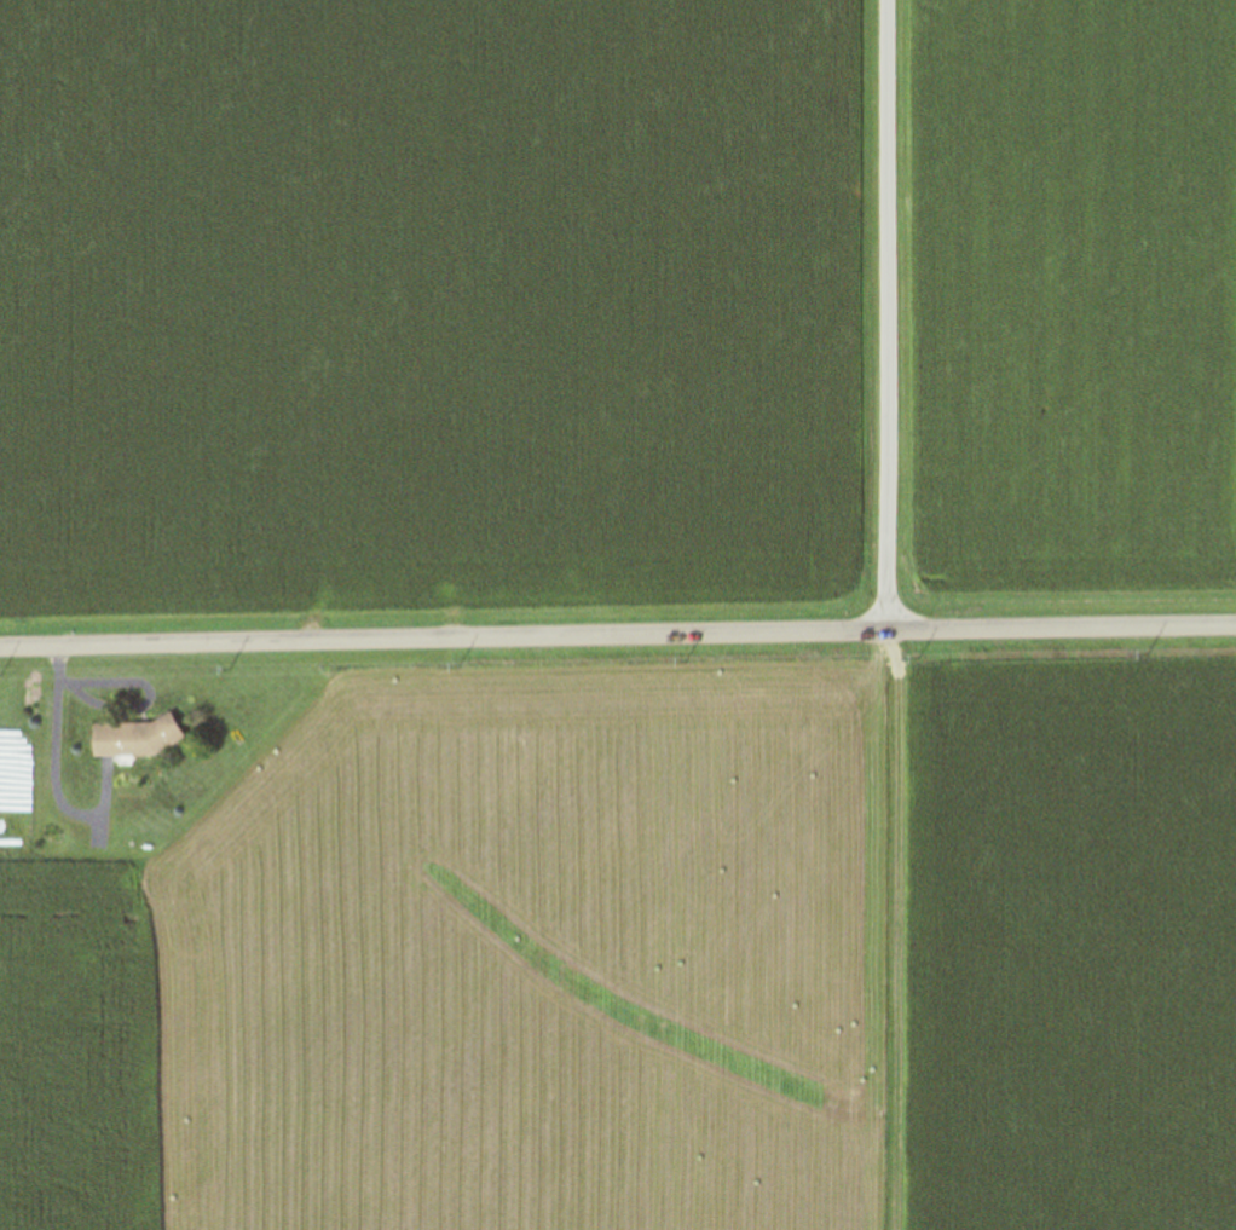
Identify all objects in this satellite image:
road: (860, 314)
road: (617, 634)
building: (133, 738)

